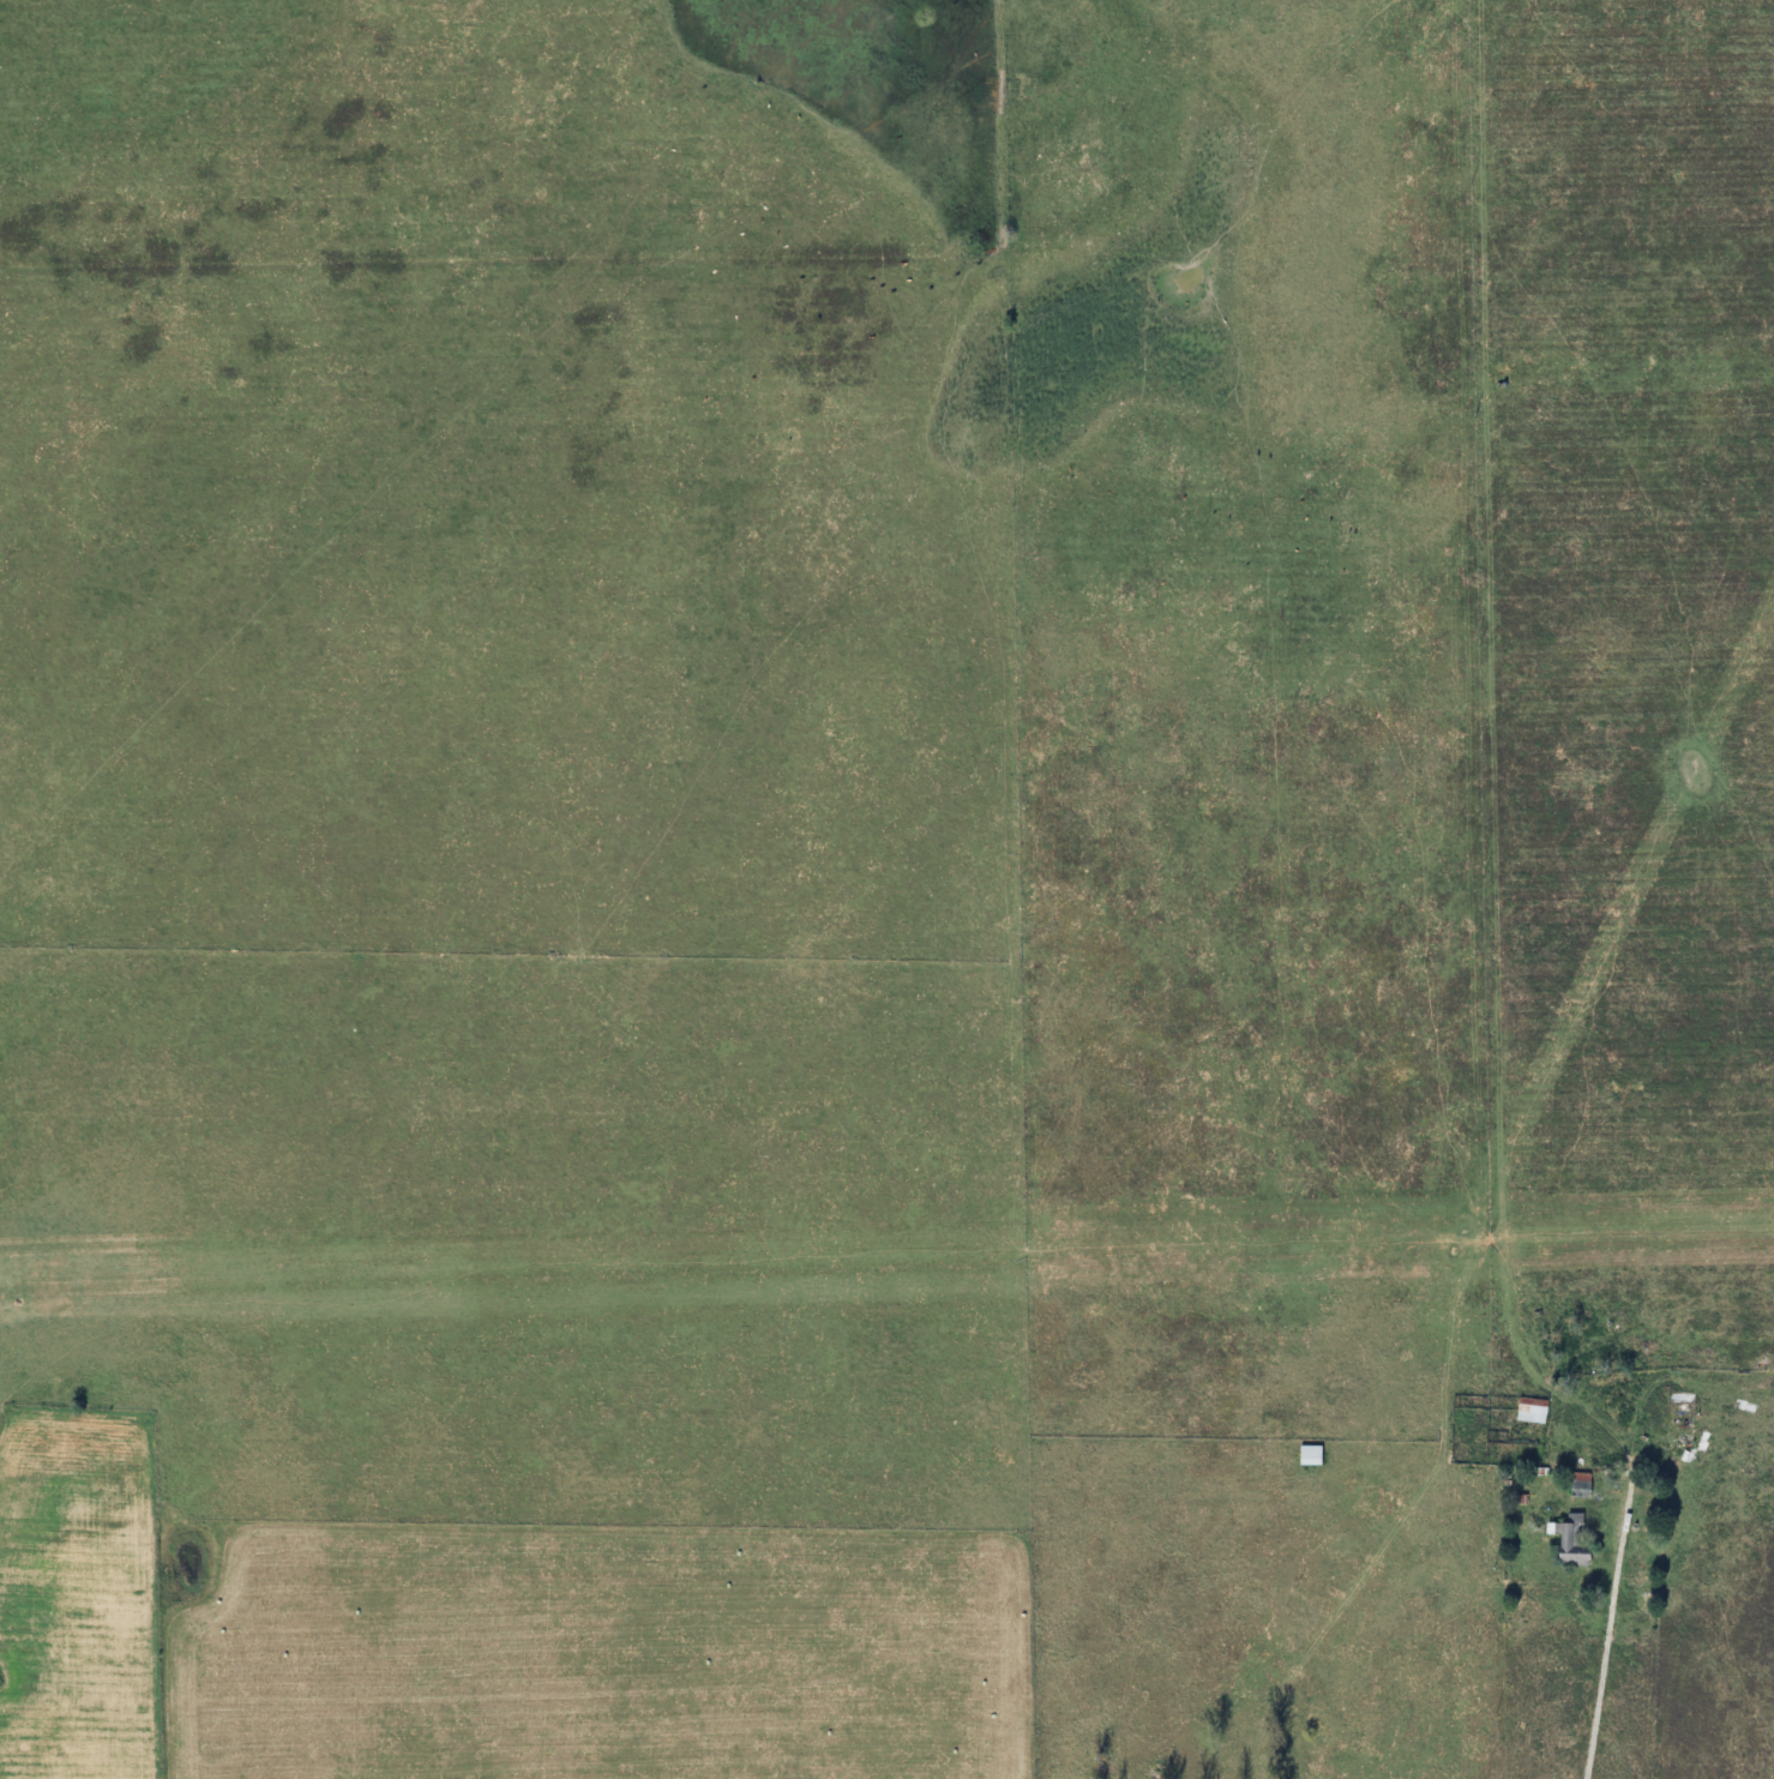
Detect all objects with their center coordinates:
building: (1527, 1408)
building: (1673, 1424)
building: (1305, 1454)
building: (1575, 1484)
building: (1566, 1540)
road: (1601, 1624)

